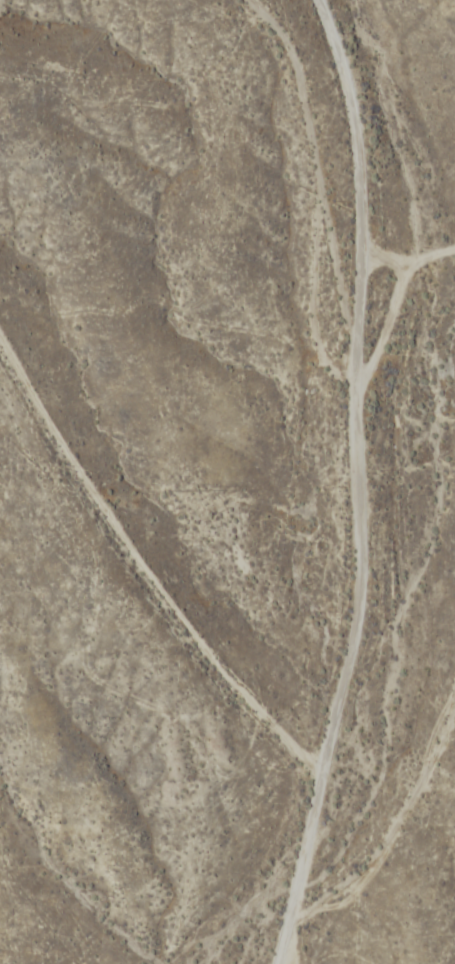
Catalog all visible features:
road: (407, 250)
road: (360, 482)
road: (380, 839)

